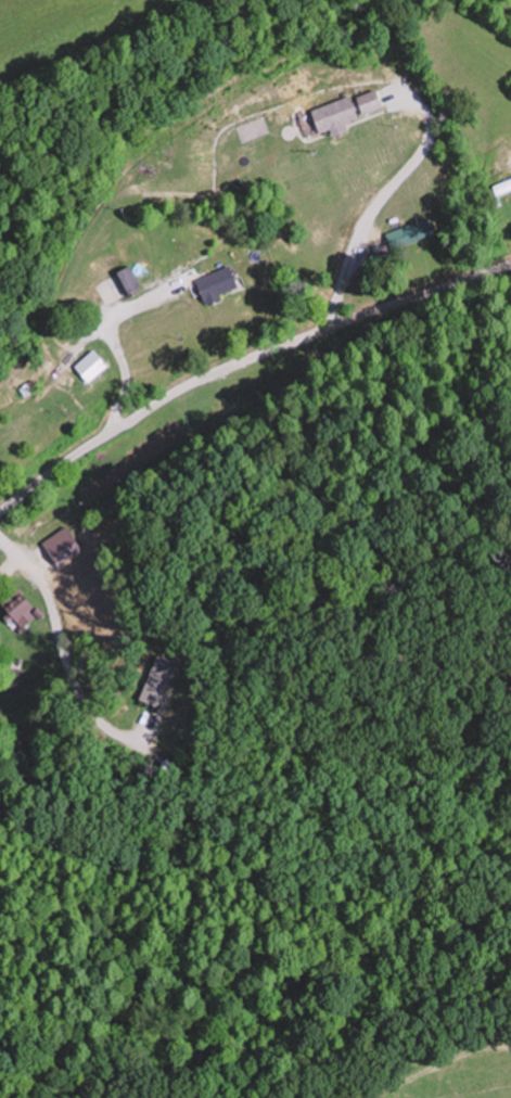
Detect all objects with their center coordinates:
building: (350, 111)
building: (506, 187)
building: (422, 231)
building: (130, 282)
building: (221, 283)
road: (241, 359)
building: (95, 365)
building: (23, 610)

